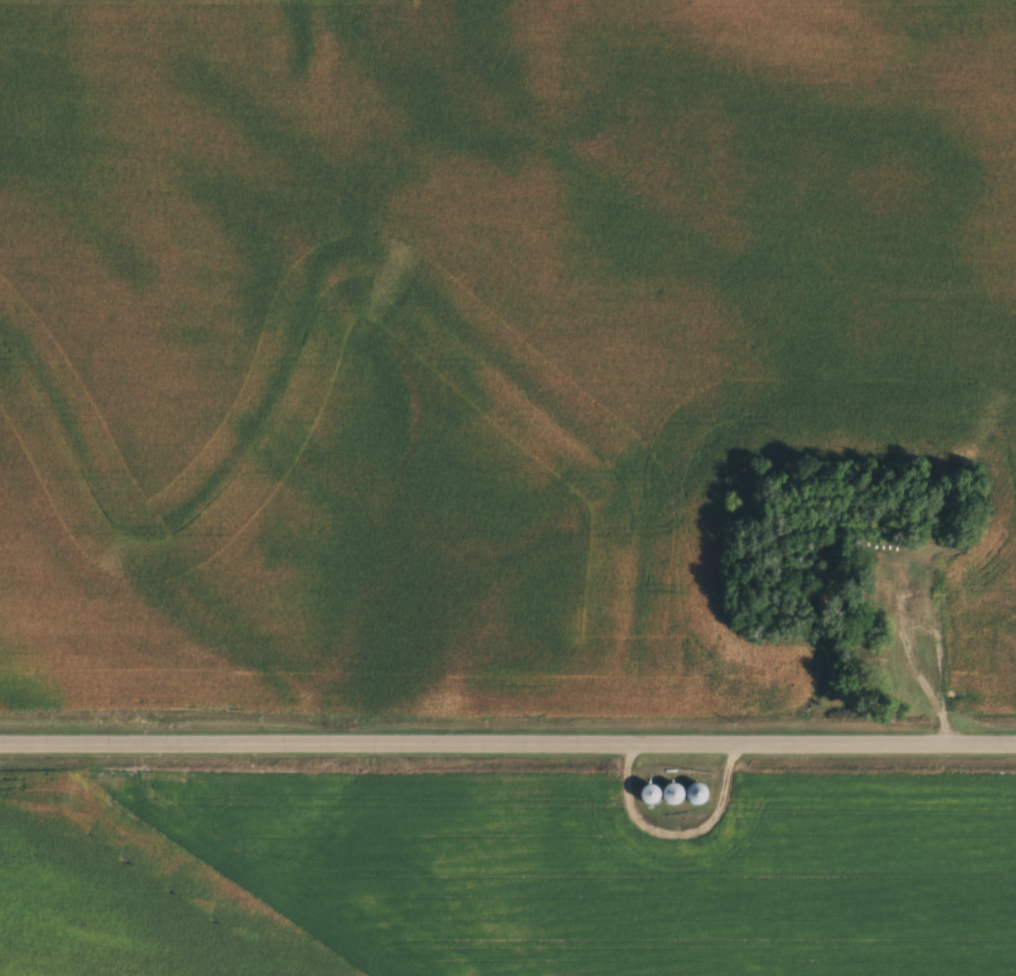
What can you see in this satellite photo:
crop: (475, 337)
road: (508, 741)
building: (698, 792)
building: (664, 793)
crop: (506, 870)

